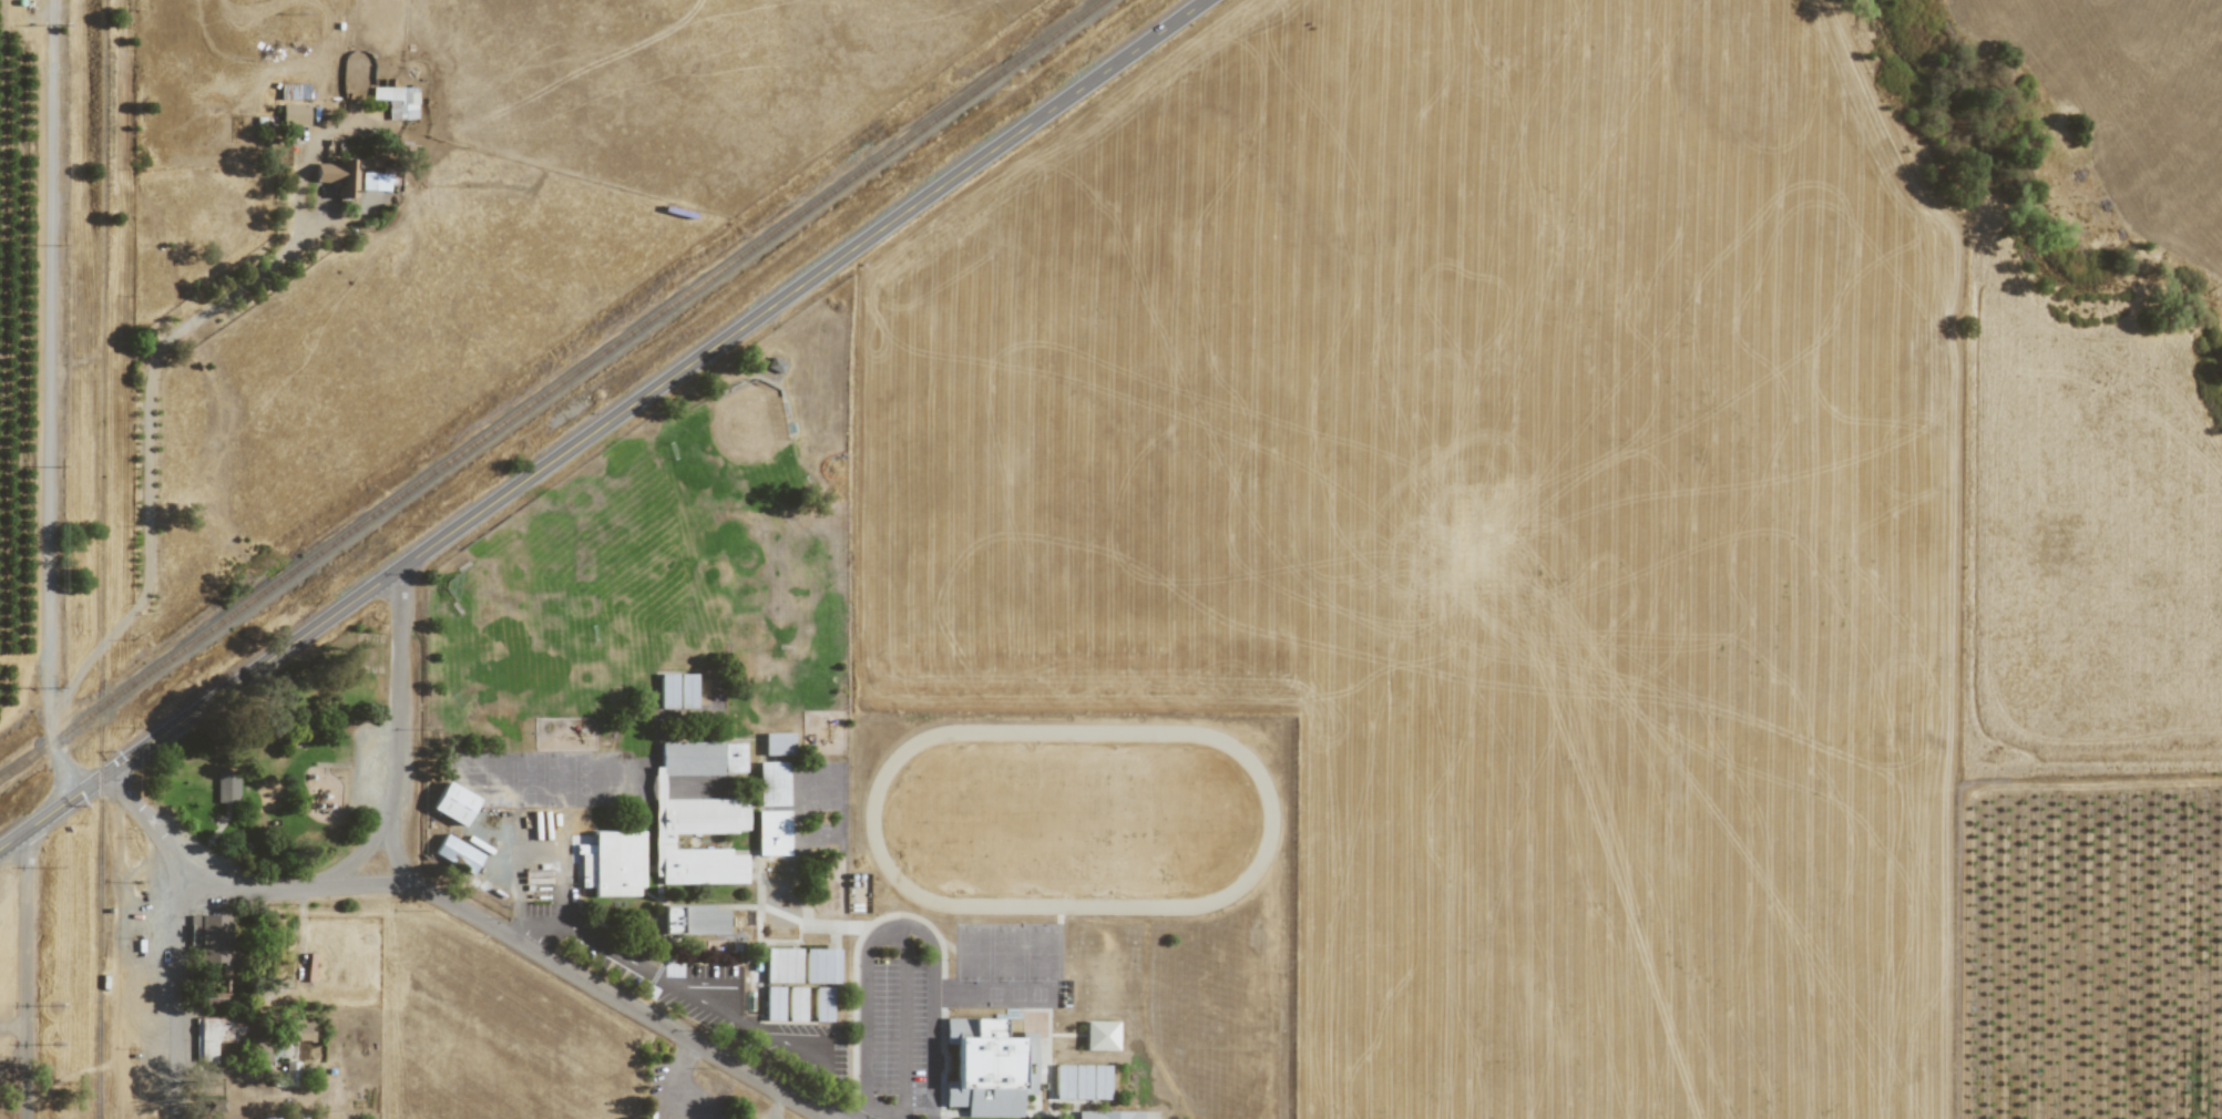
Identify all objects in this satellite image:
building: (398, 101)
building: (295, 114)
building: (338, 176)
building: (375, 181)
building: (775, 365)
railway: (551, 388)
road: (47, 400)
road: (603, 424)
road: (146, 453)
building: (667, 690)
building: (687, 690)
building: (778, 743)
building: (772, 783)
building: (227, 786)
building: (453, 803)
road: (388, 810)
building: (698, 814)
road: (152, 828)
building: (772, 832)
building: (457, 853)
building: (612, 864)
building: (694, 920)
road: (895, 923)
building: (212, 940)
building: (782, 964)
building: (821, 965)
road: (573, 974)
road: (25, 975)
building: (214, 999)
building: (774, 1003)
building: (796, 1003)
building: (822, 1004)
road: (177, 1005)
building: (301, 1029)
building: (215, 1035)
building: (1100, 1035)
building: (989, 1067)
building: (287, 1076)
building: (1081, 1081)
road: (672, 1094)
building: (295, 1113)
building: (1108, 1115)

